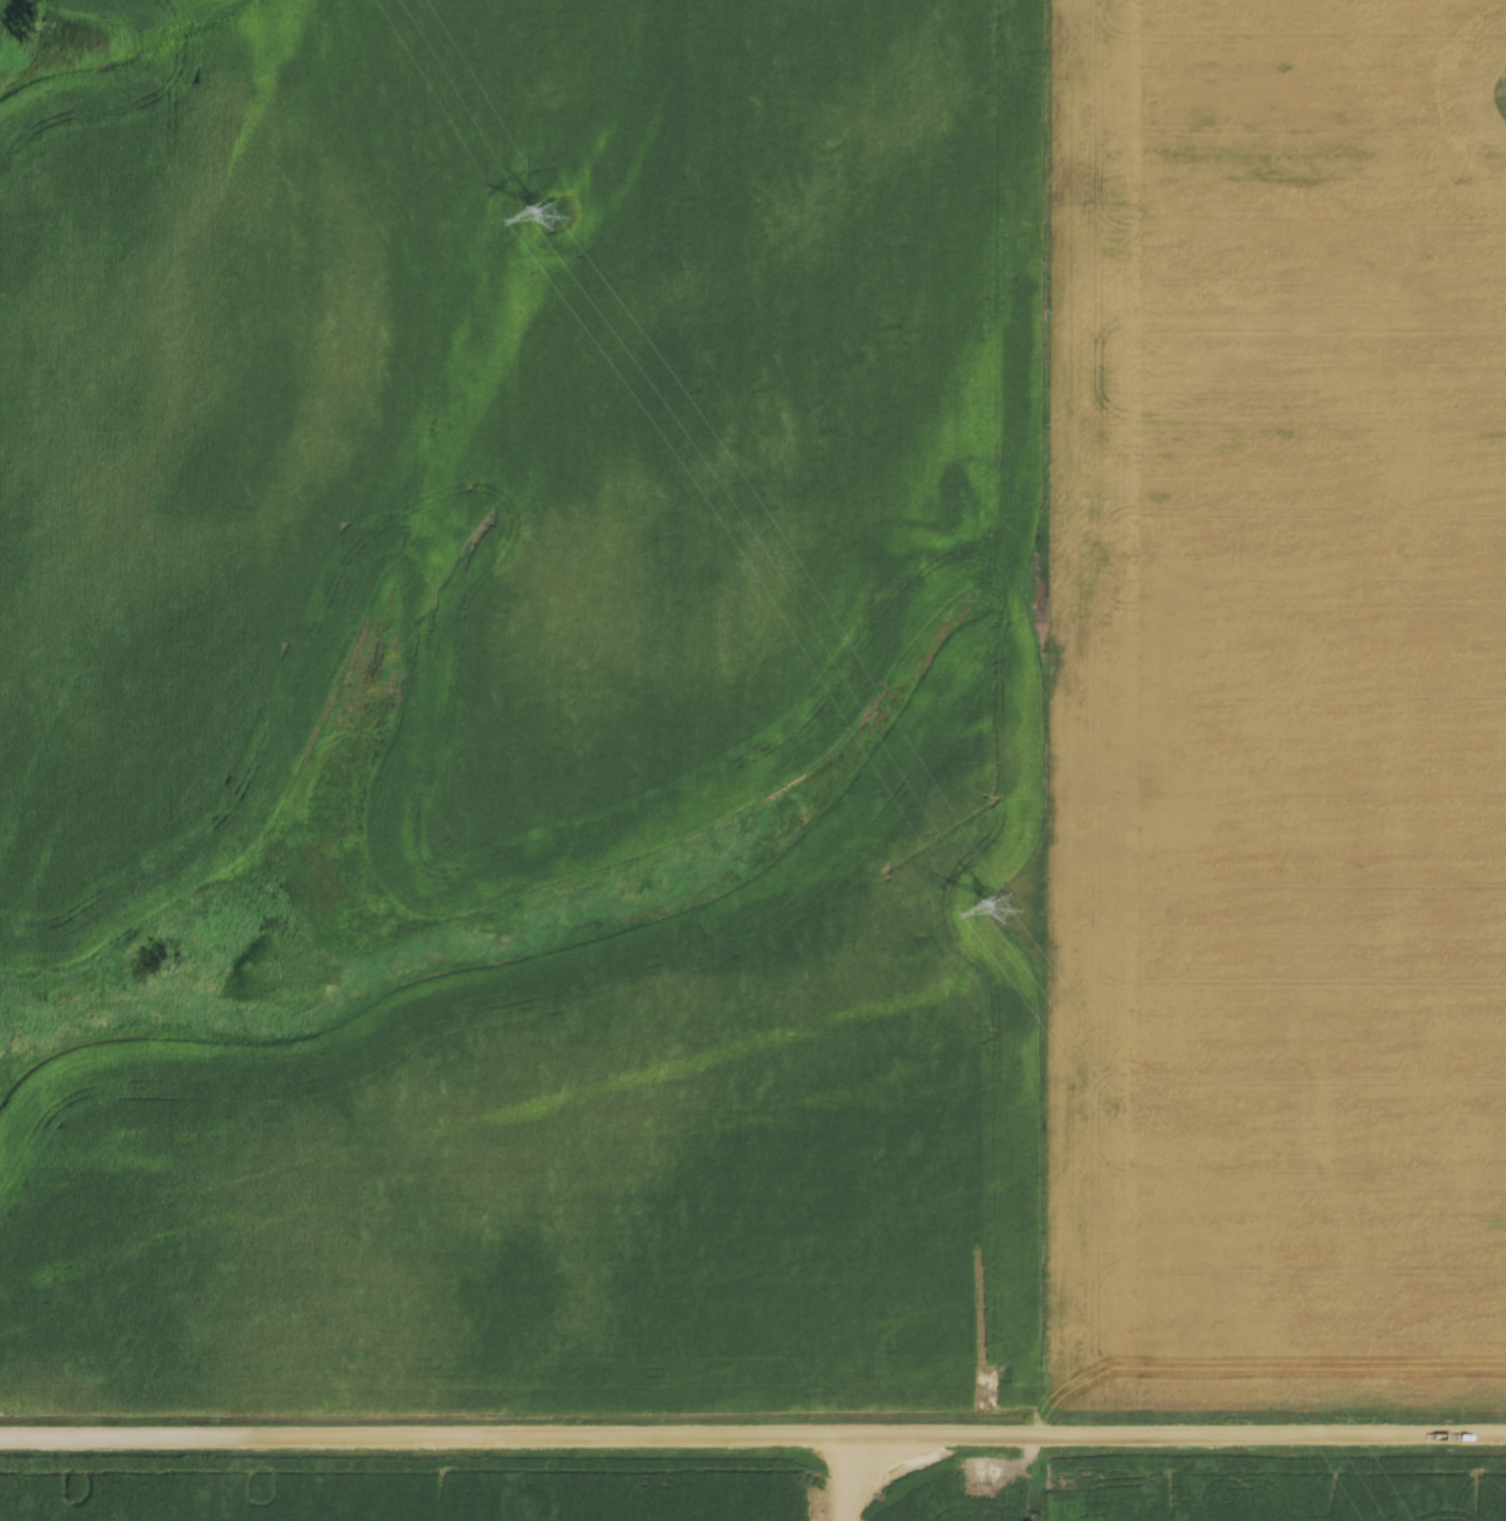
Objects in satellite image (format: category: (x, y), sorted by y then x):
power tower: (547, 213)
power tower: (1001, 910)
road: (753, 1435)

